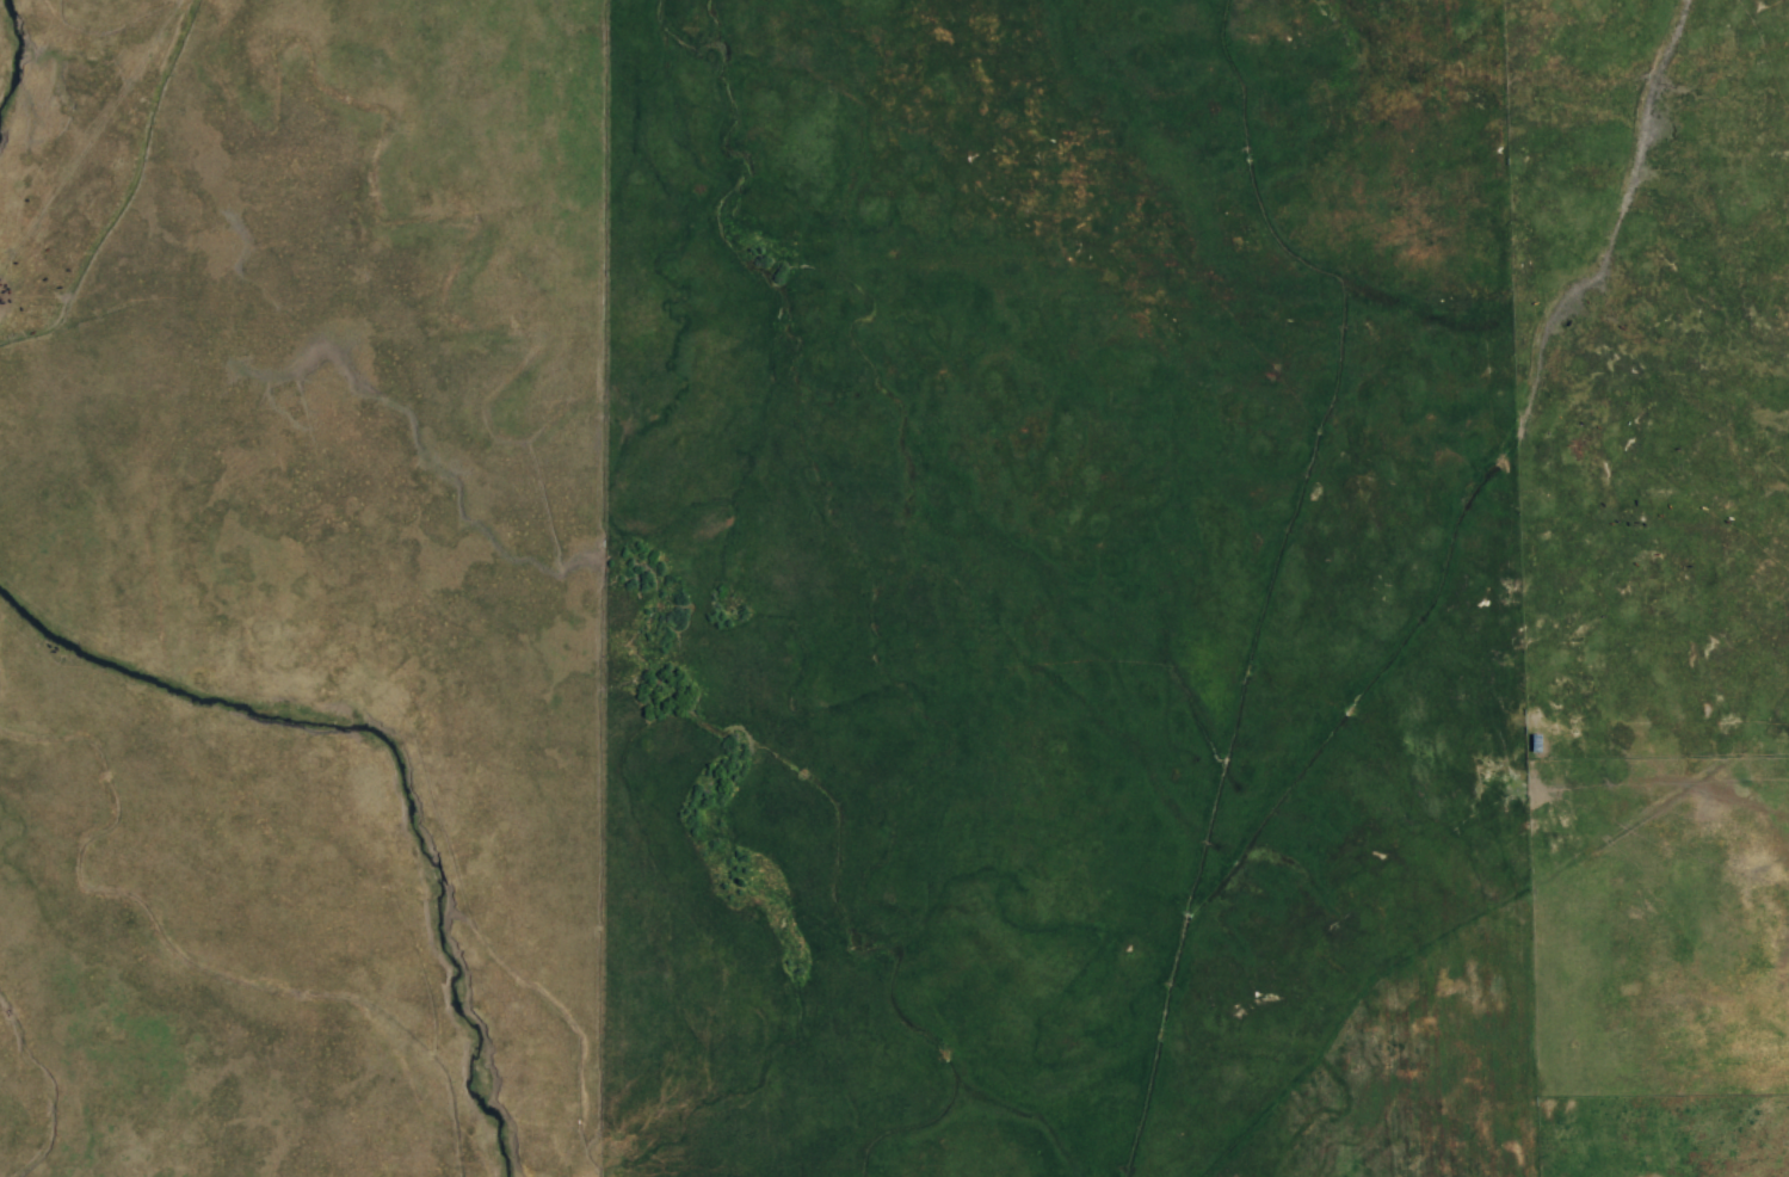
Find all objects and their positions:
crop: (1383, 586)
crop: (853, 825)

